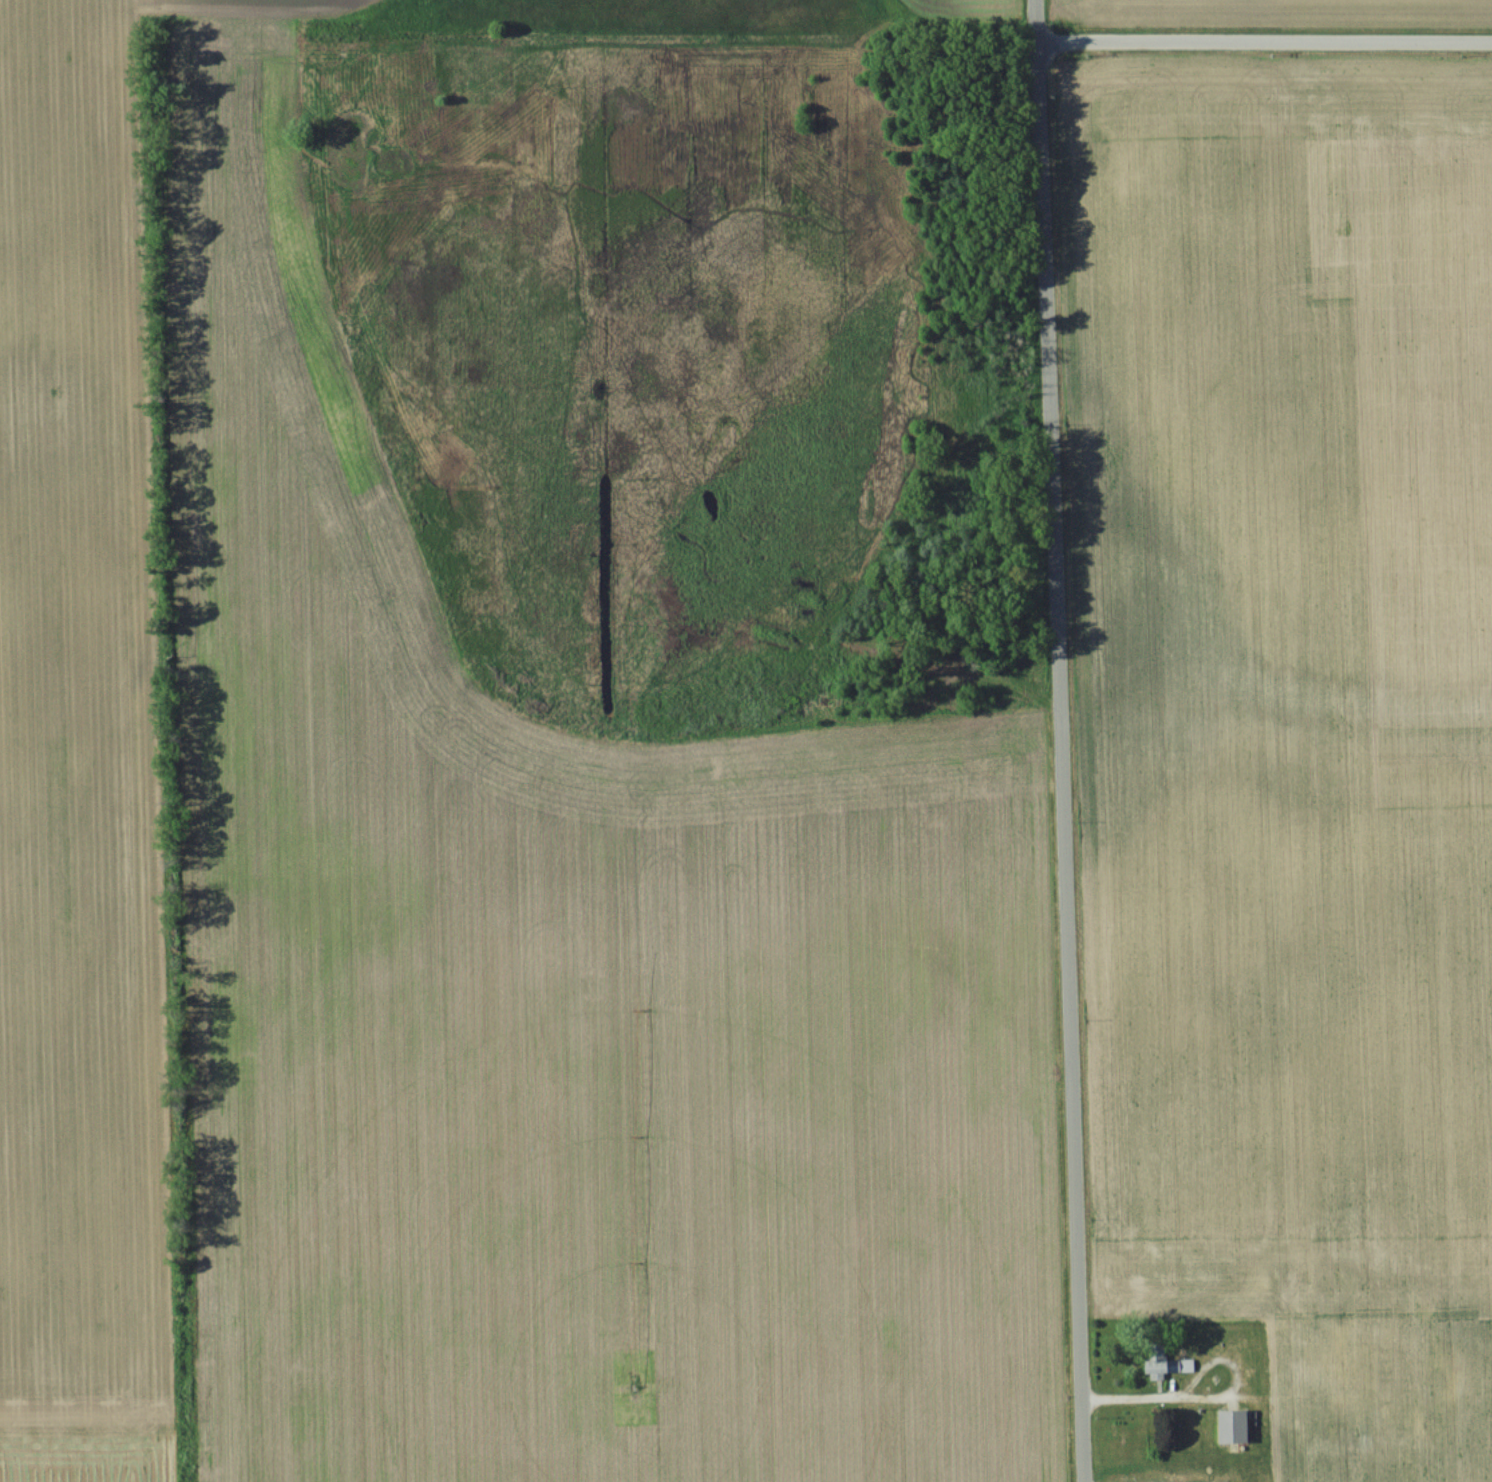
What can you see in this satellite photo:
road: (1265, 39)
road: (1060, 740)
building: (1168, 1367)
road: (1205, 1398)
building: (1234, 1426)
building: (1234, 1477)

